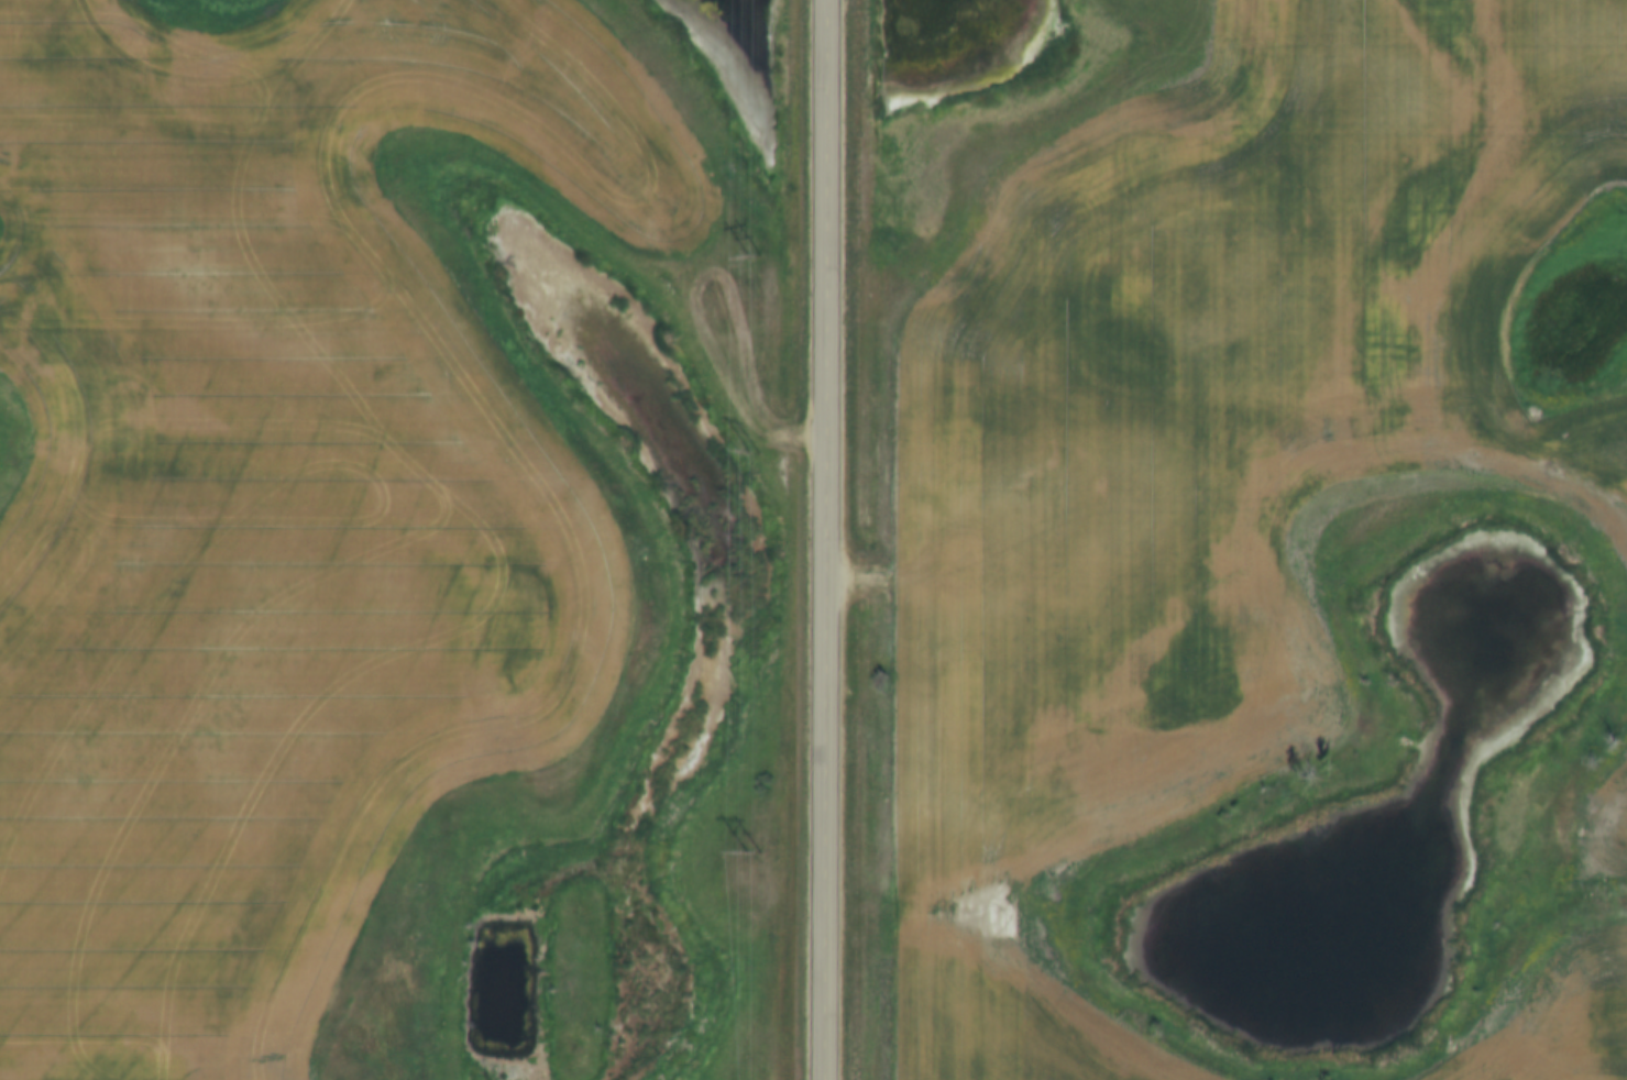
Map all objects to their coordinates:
road: (825, 539)

